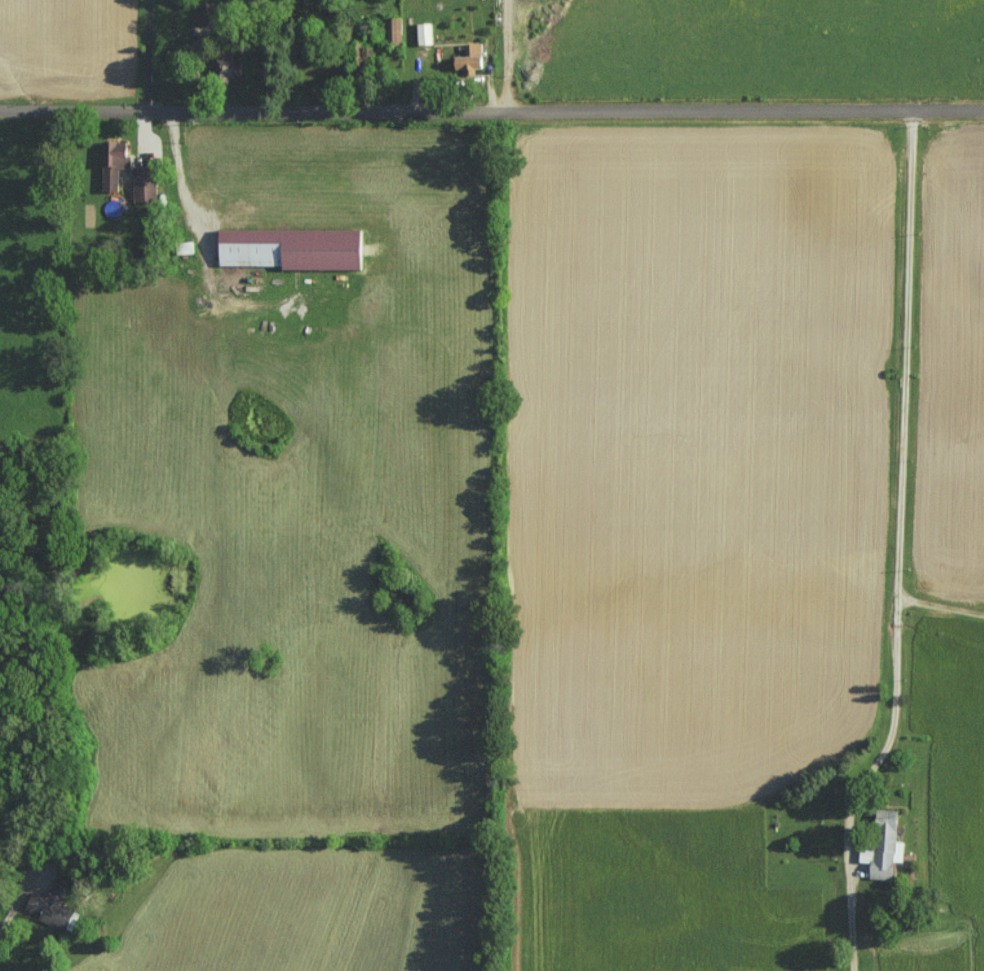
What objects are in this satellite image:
building: (209, 12)
building: (519, 15)
building: (396, 29)
building: (426, 33)
road: (505, 48)
road: (146, 50)
building: (473, 59)
building: (228, 64)
road: (491, 98)
building: (115, 163)
building: (146, 184)
building: (294, 248)
road: (896, 411)
road: (939, 611)
road: (849, 844)
building: (886, 847)
road: (20, 903)
building: (52, 905)

